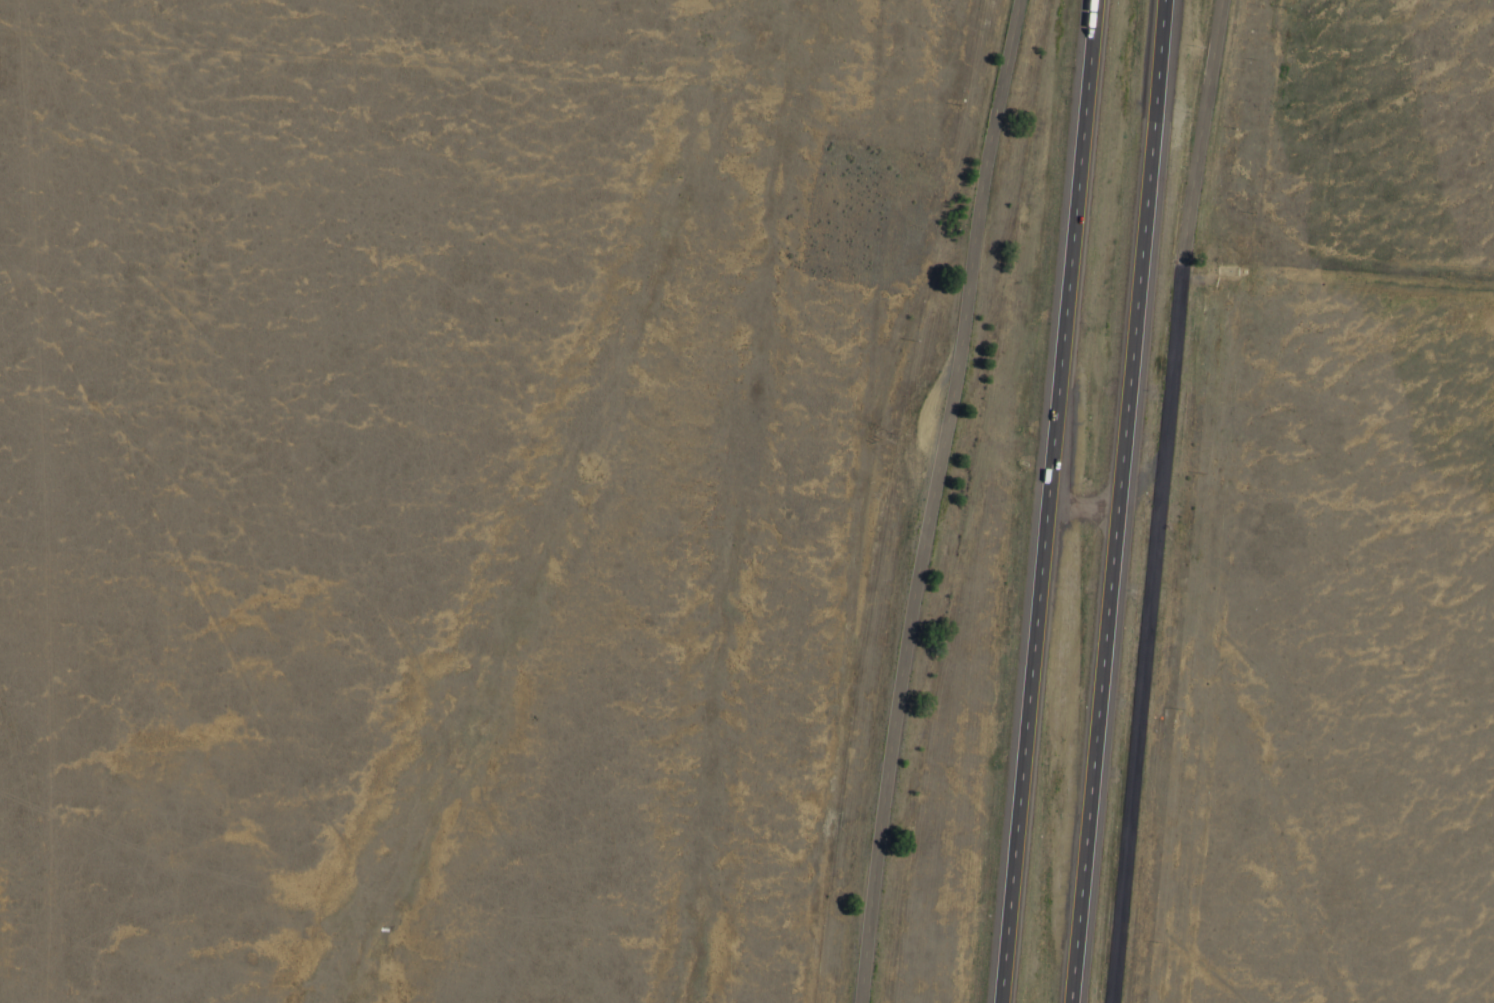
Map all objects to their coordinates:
road: (1336, 301)
road: (927, 499)
road: (1156, 500)
road: (1044, 501)
road: (1114, 501)

